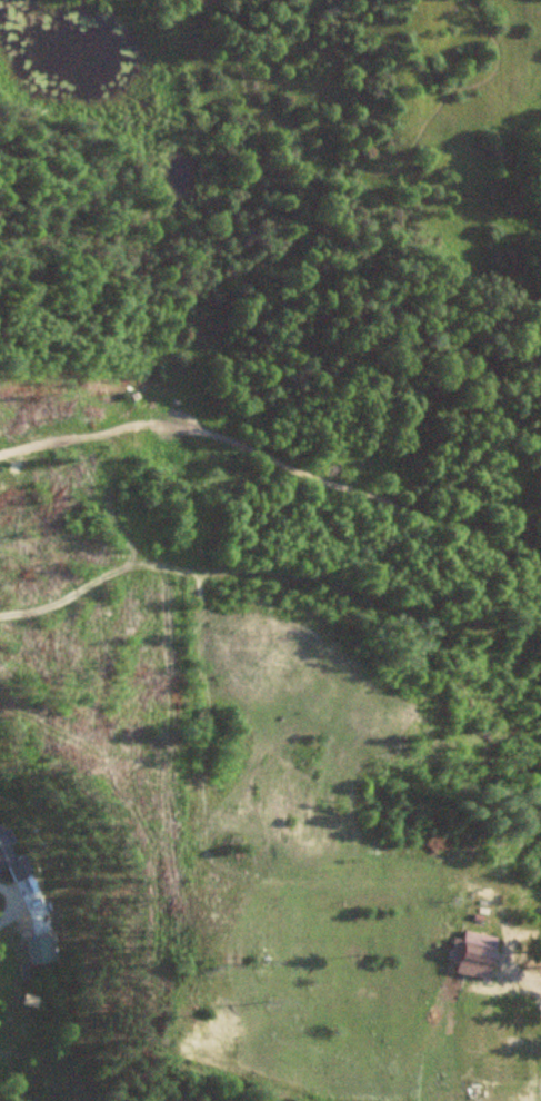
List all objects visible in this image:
building: (11, 857)
building: (50, 949)

